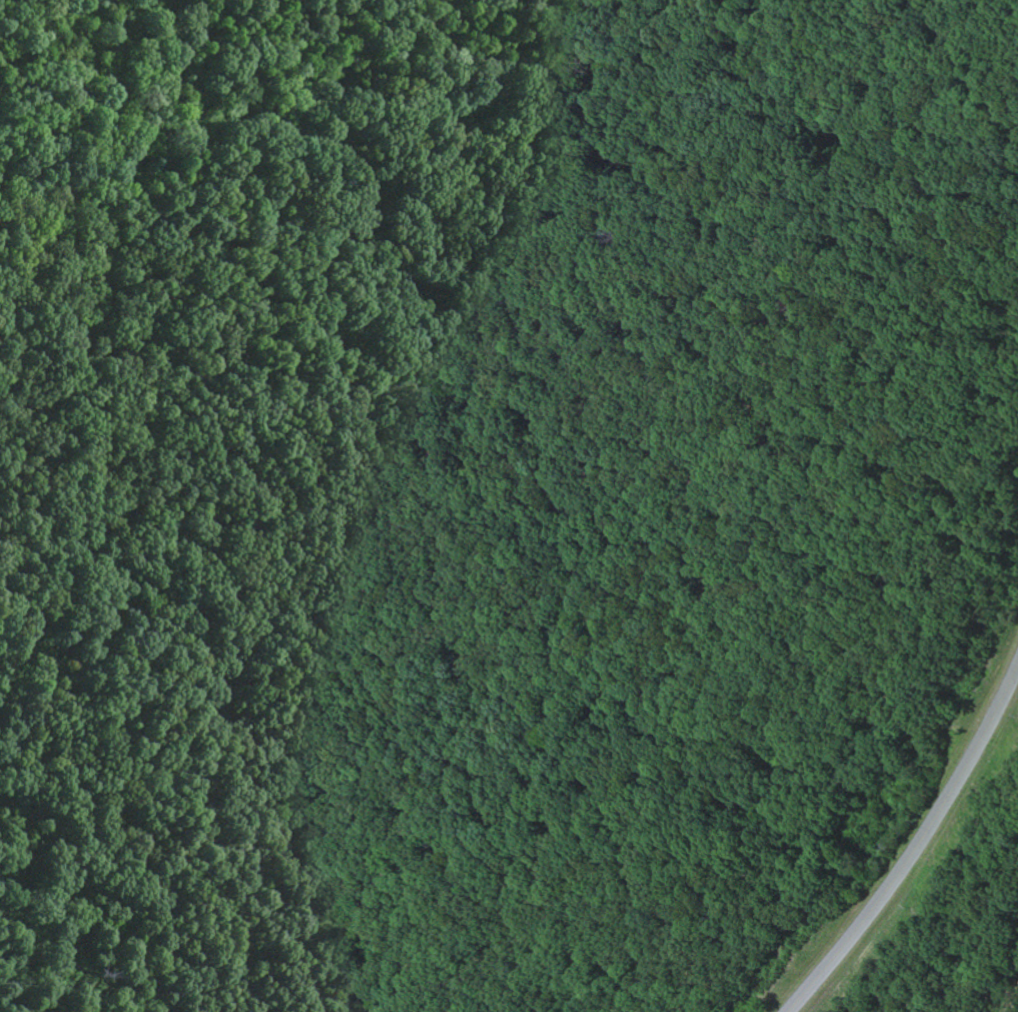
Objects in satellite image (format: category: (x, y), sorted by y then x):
road: (916, 847)
road: (1010, 997)

